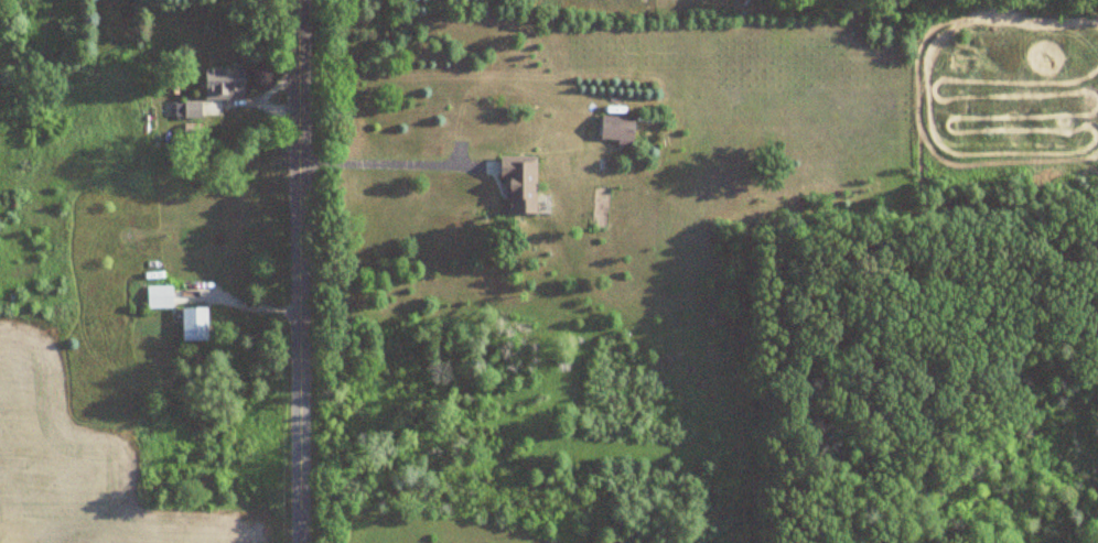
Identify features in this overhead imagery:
building: (225, 83)
building: (193, 108)
building: (618, 128)
road: (389, 158)
building: (520, 183)
road: (300, 271)
building: (160, 295)
building: (195, 323)

